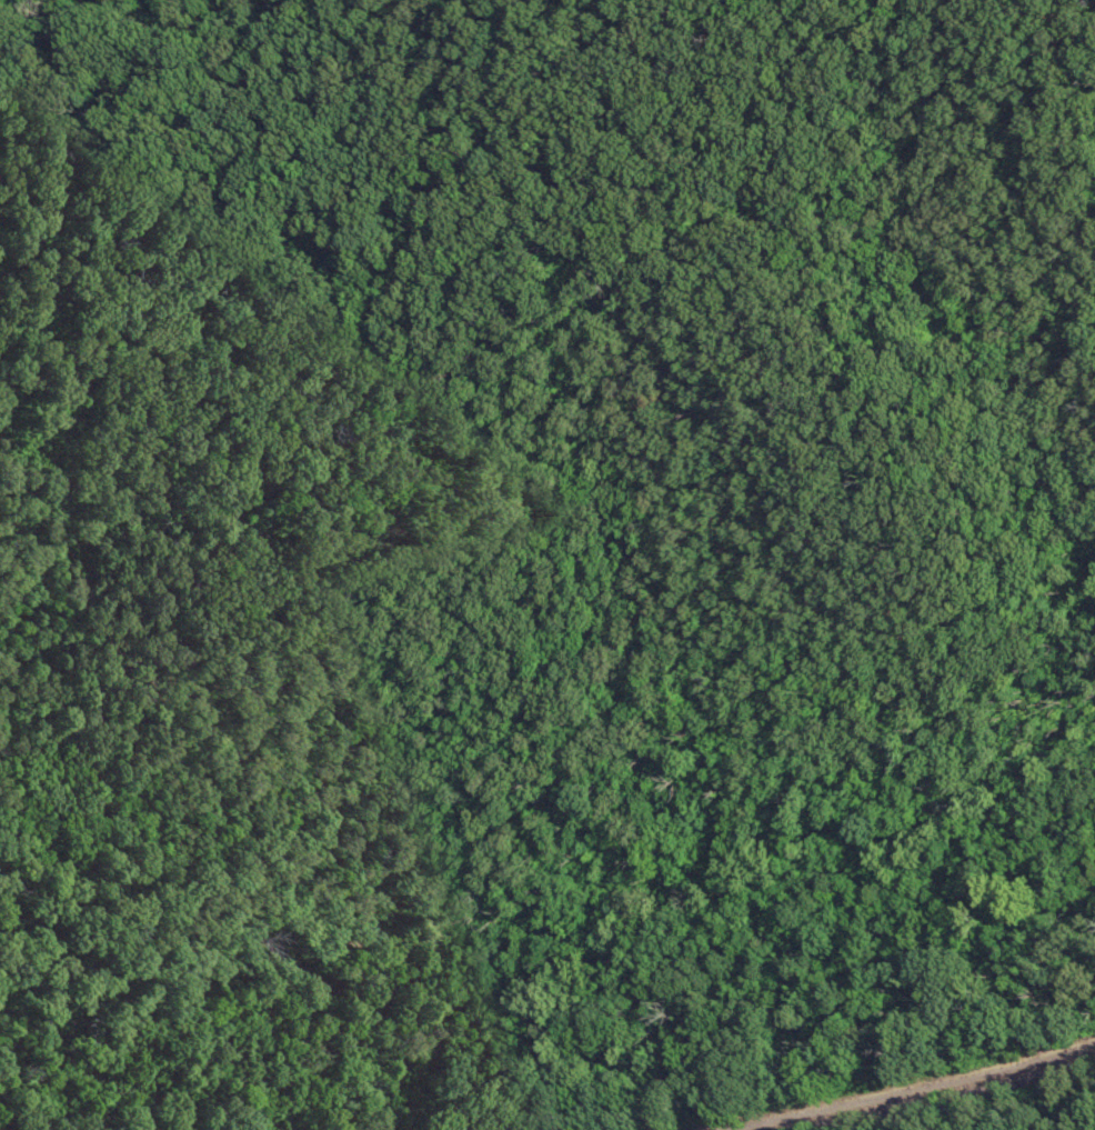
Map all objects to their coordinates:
railway: (933, 1090)

